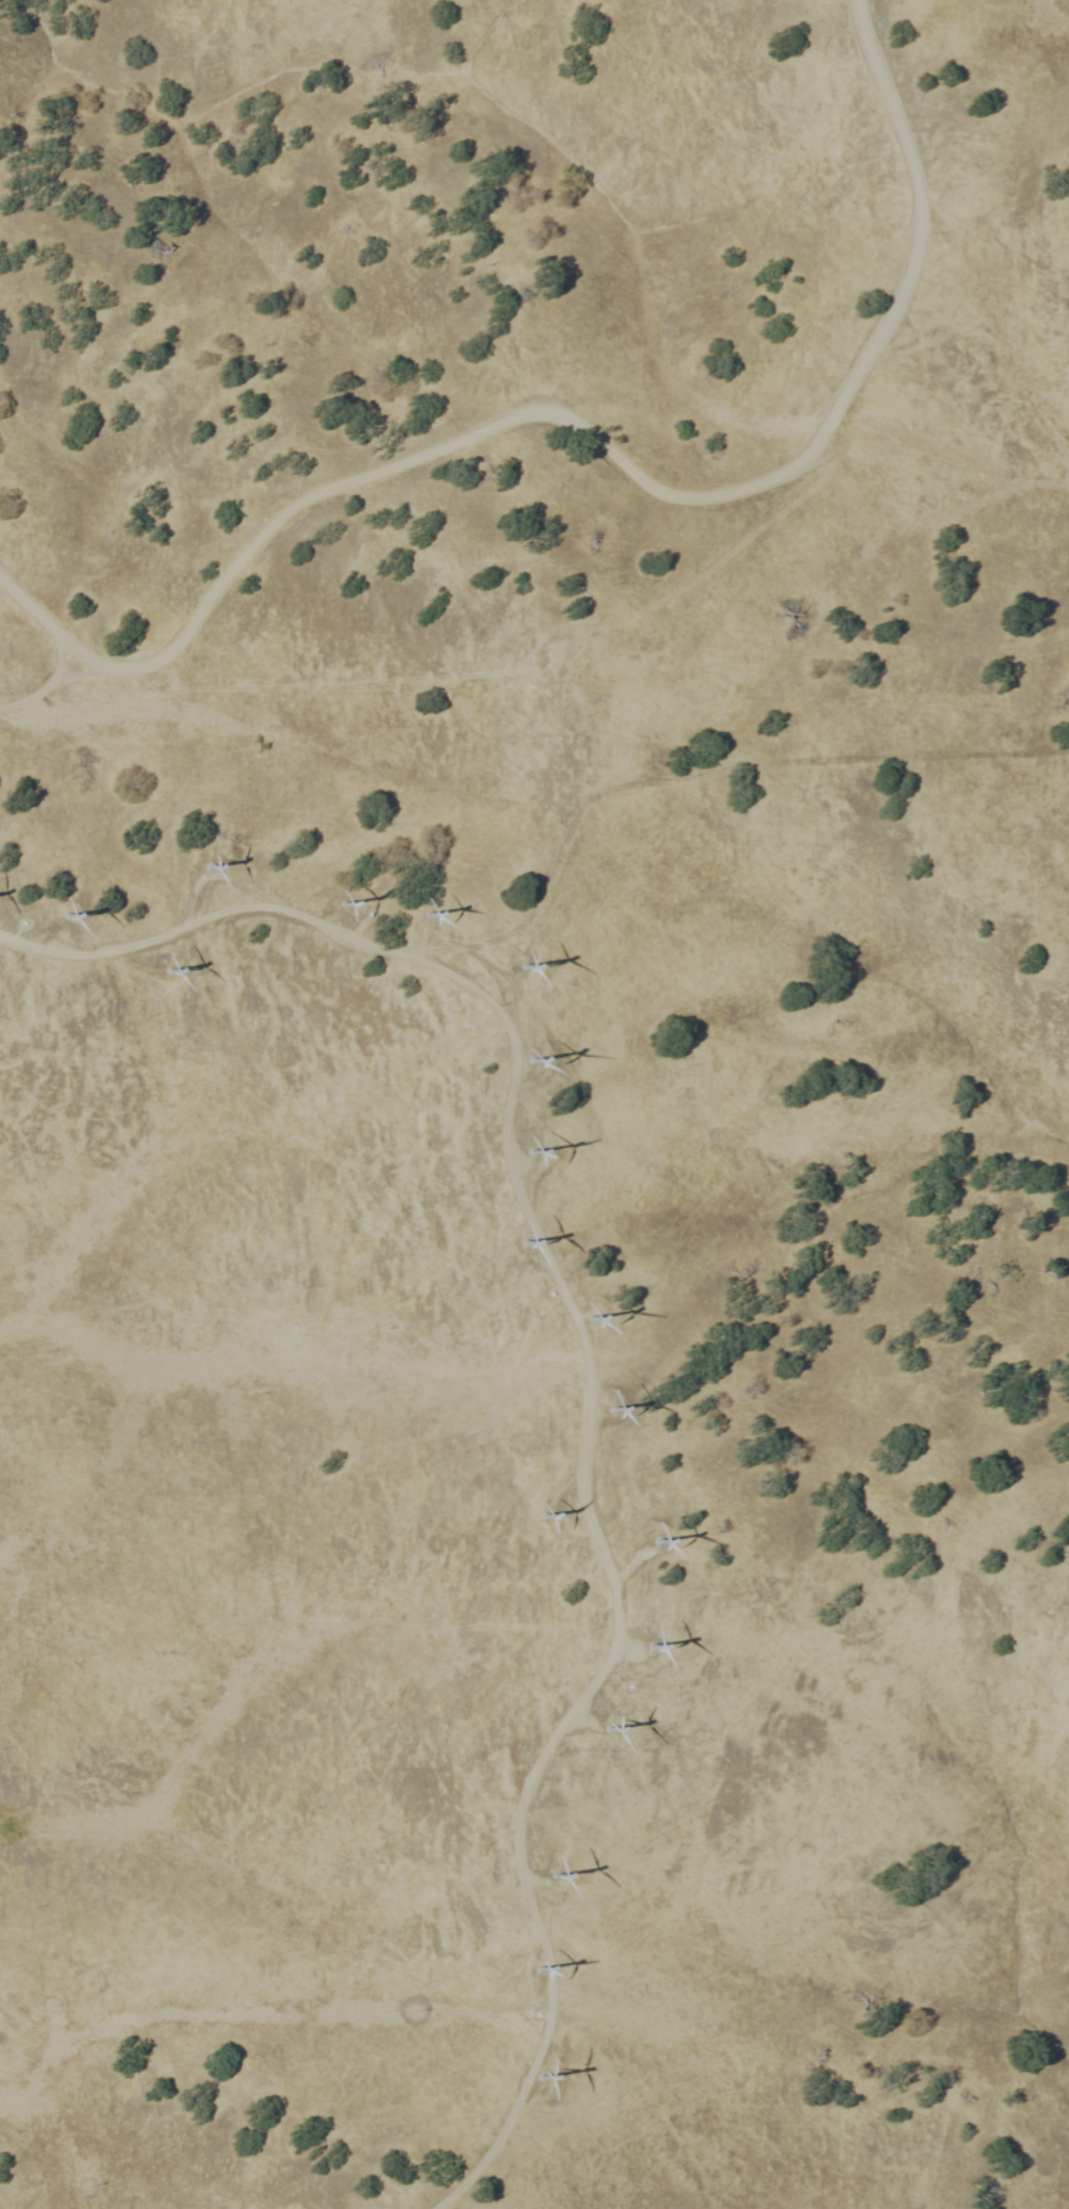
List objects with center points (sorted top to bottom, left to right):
road: (598, 441)
road: (81, 674)
road: (48, 684)
road: (0, 705)
wind turbine: (206, 875)
wind turbine: (340, 908)
wind turbine: (64, 912)
wind turbine: (427, 923)
wind turbine: (524, 960)
wind turbine: (169, 971)
wind turbine: (530, 1061)
wind turbine: (532, 1152)
wind turbine: (526, 1245)
wind turbine: (596, 1315)
road: (588, 1371)
wind turbine: (618, 1403)
road: (545, 1509)
wind turbine: (536, 1511)
wind turbine: (650, 1534)
road: (618, 1562)
wind turbine: (637, 1635)
wind turbine: (598, 1723)
wind turbine: (552, 1875)
wind turbine: (534, 1967)
wind turbine: (541, 2074)

